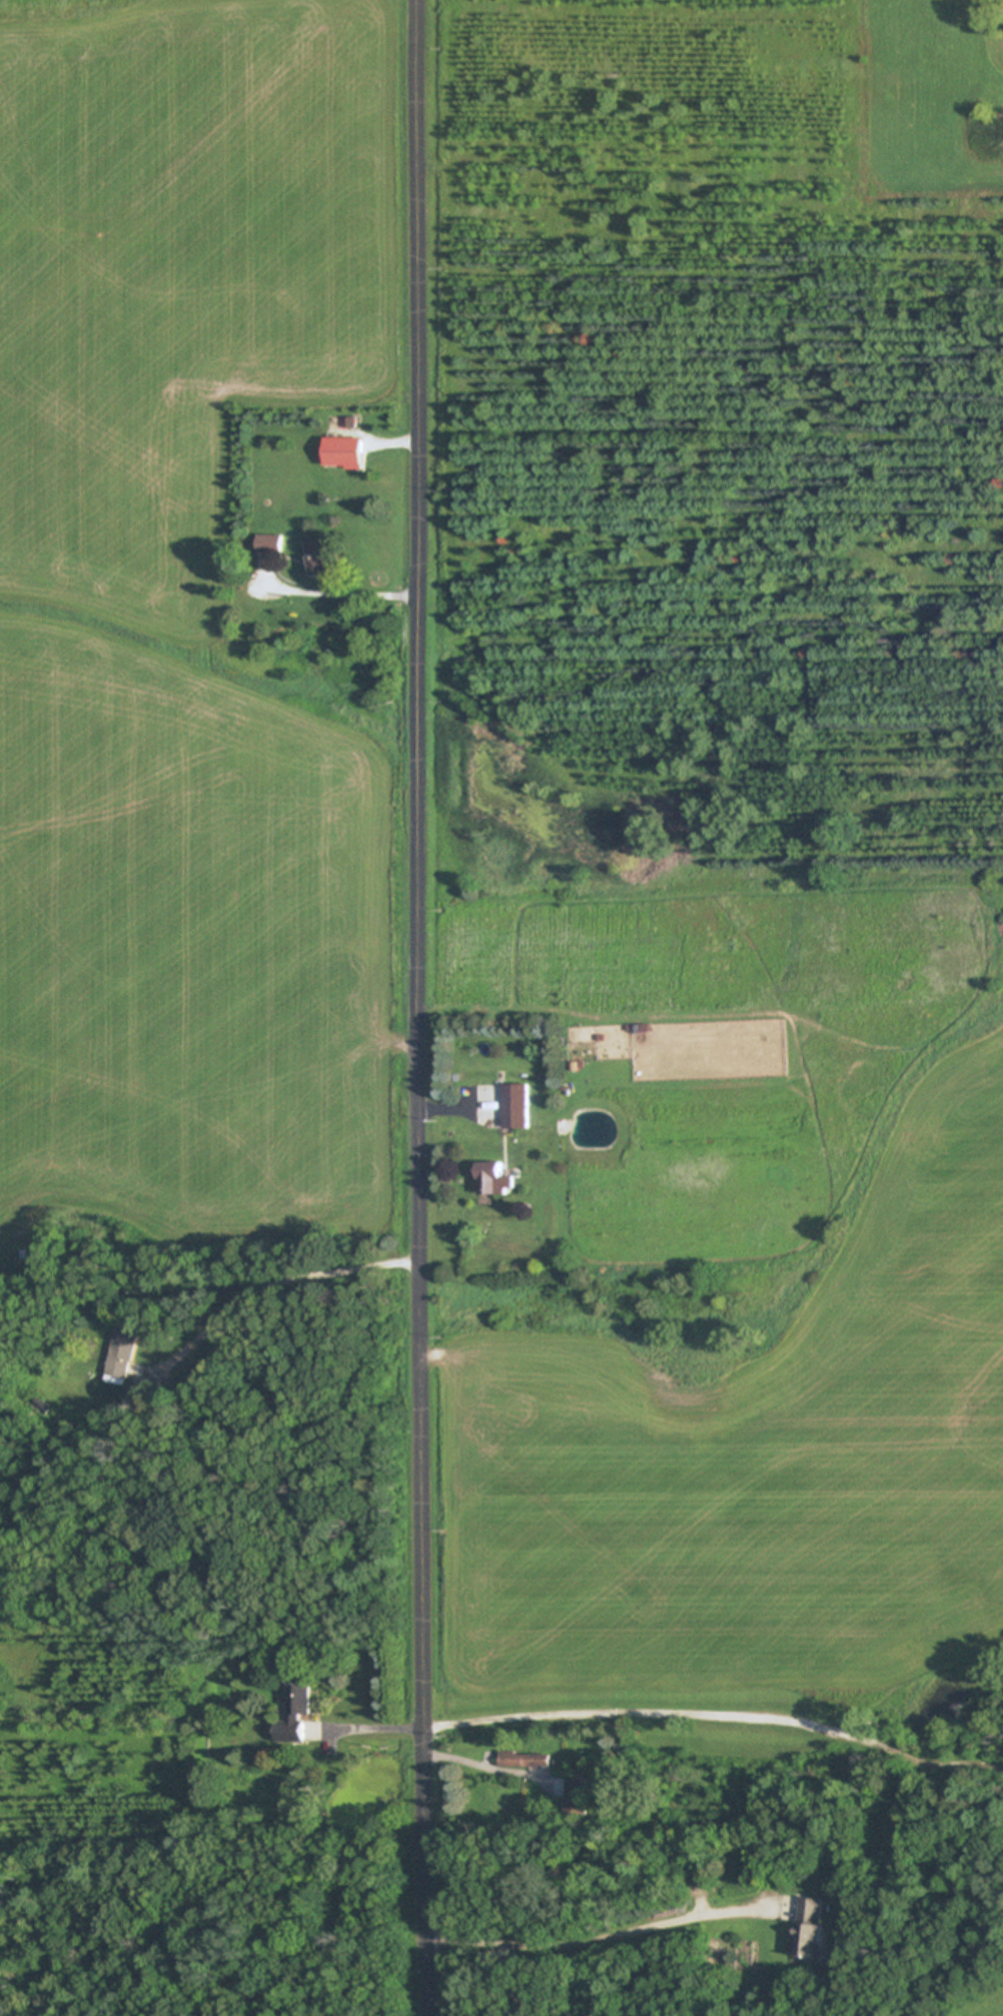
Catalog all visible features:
building: (348, 454)
building: (273, 545)
building: (325, 558)
road: (345, 593)
road: (418, 1008)
building: (520, 1108)
road: (448, 1112)
building: (497, 1181)
road: (276, 1284)
building: (123, 1353)
road: (673, 1713)
building: (297, 1718)
building: (527, 1761)
road: (481, 1766)
building: (578, 1799)
building: (792, 1910)
building: (813, 1930)
road: (597, 1938)

